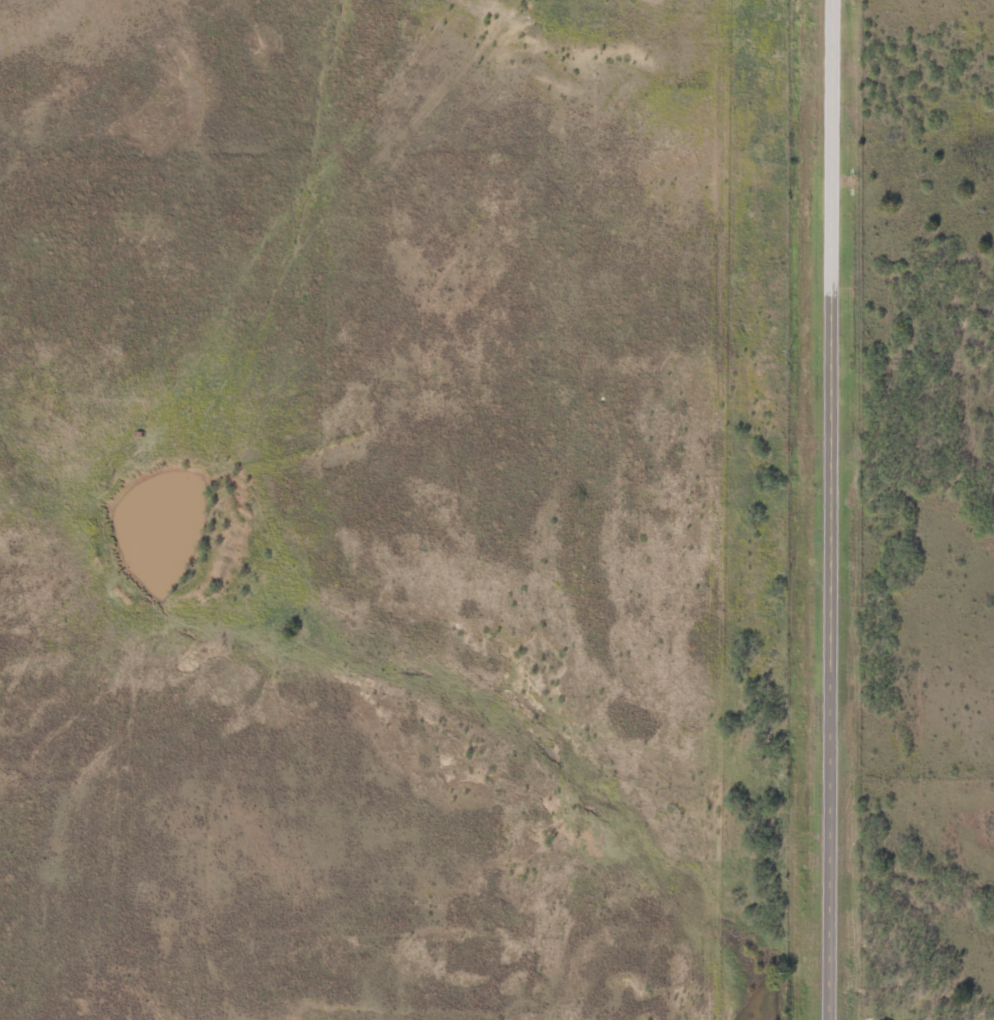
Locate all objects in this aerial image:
road: (827, 509)

